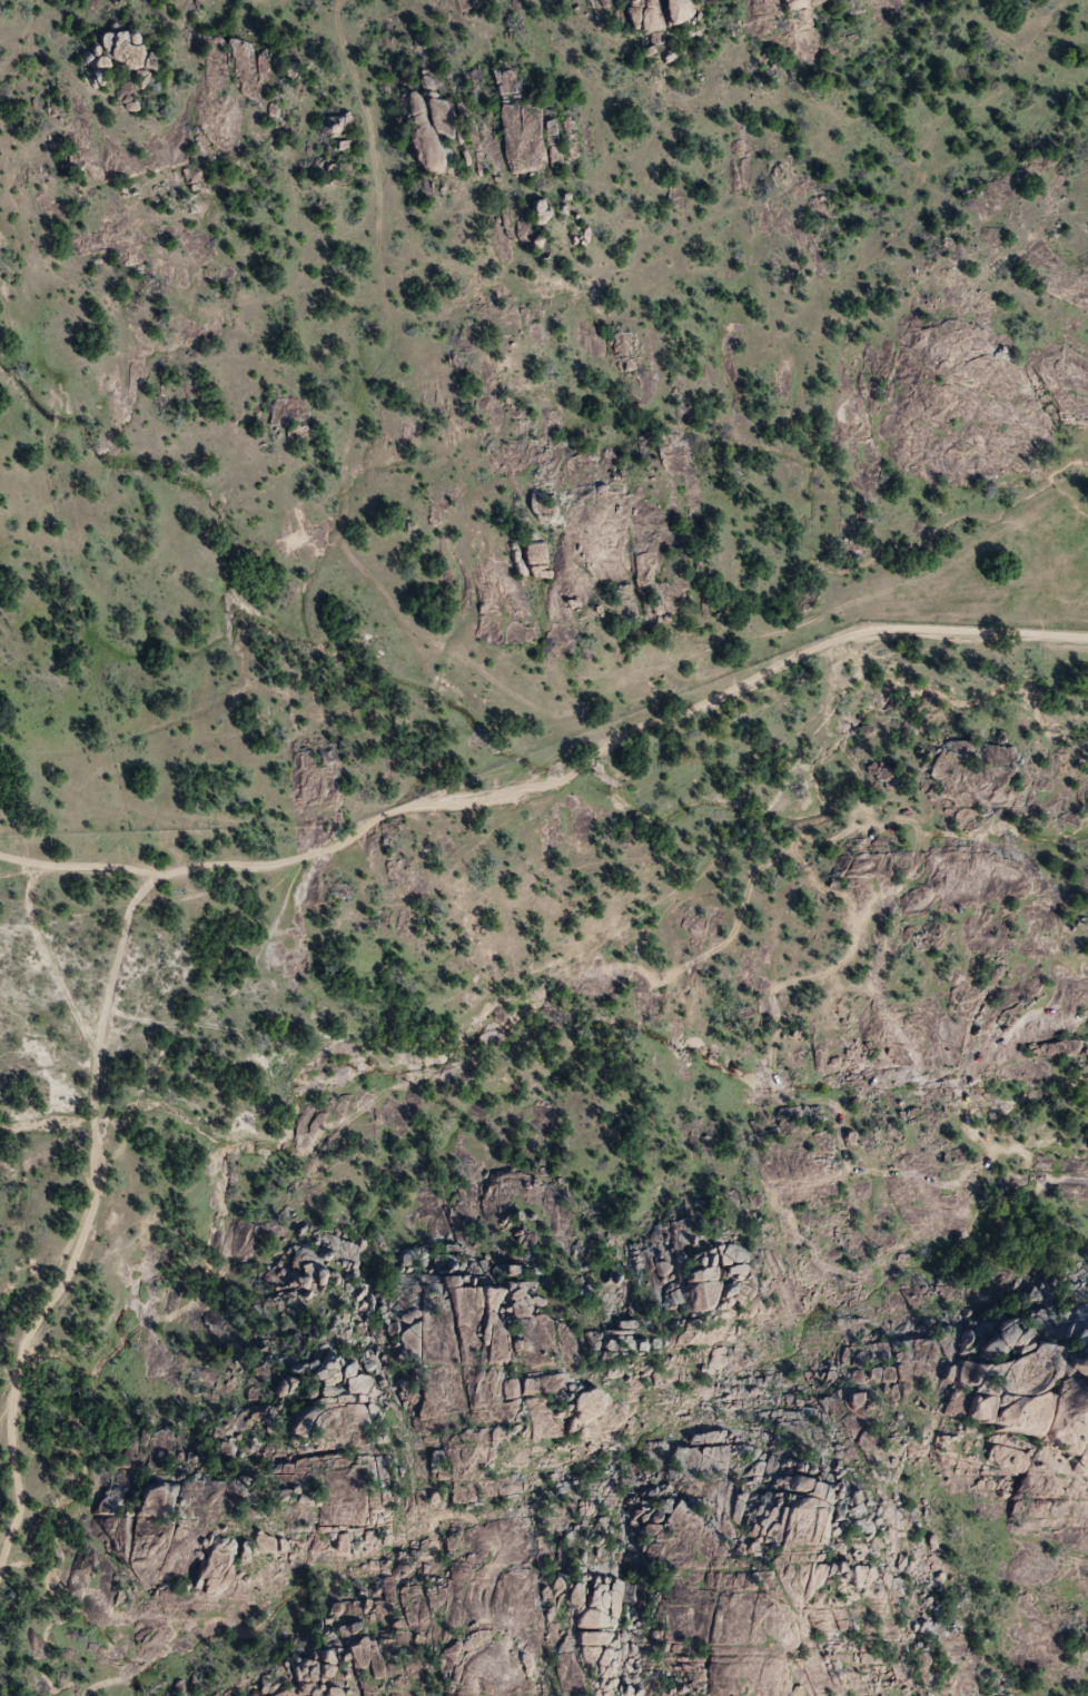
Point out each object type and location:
building: (675, 12)
building: (100, 63)
building: (412, 105)
building: (534, 554)
road: (571, 780)
road: (61, 982)
road: (91, 1217)
building: (602, 1621)

